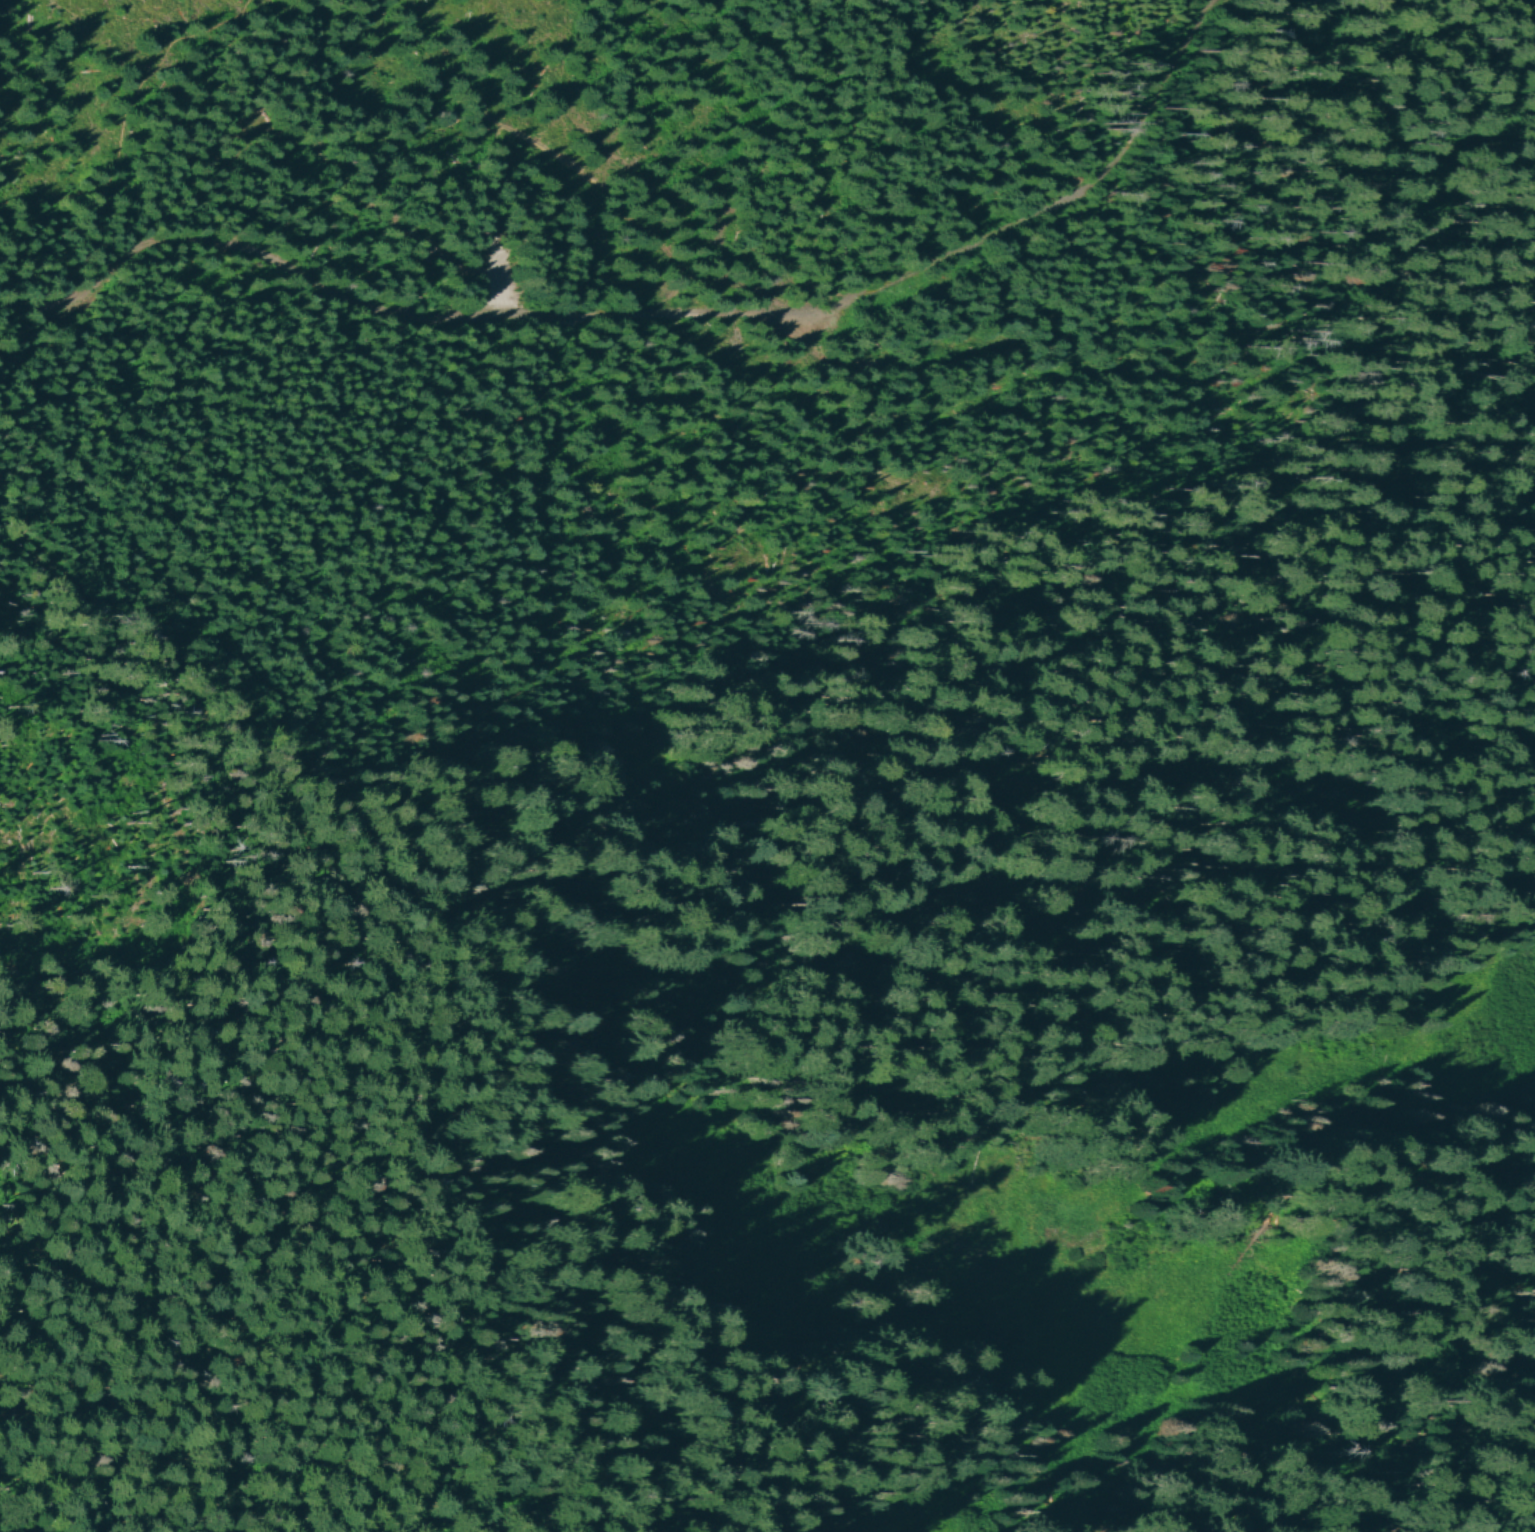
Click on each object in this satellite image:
road: (121, 114)
road: (650, 316)
road: (385, 951)

